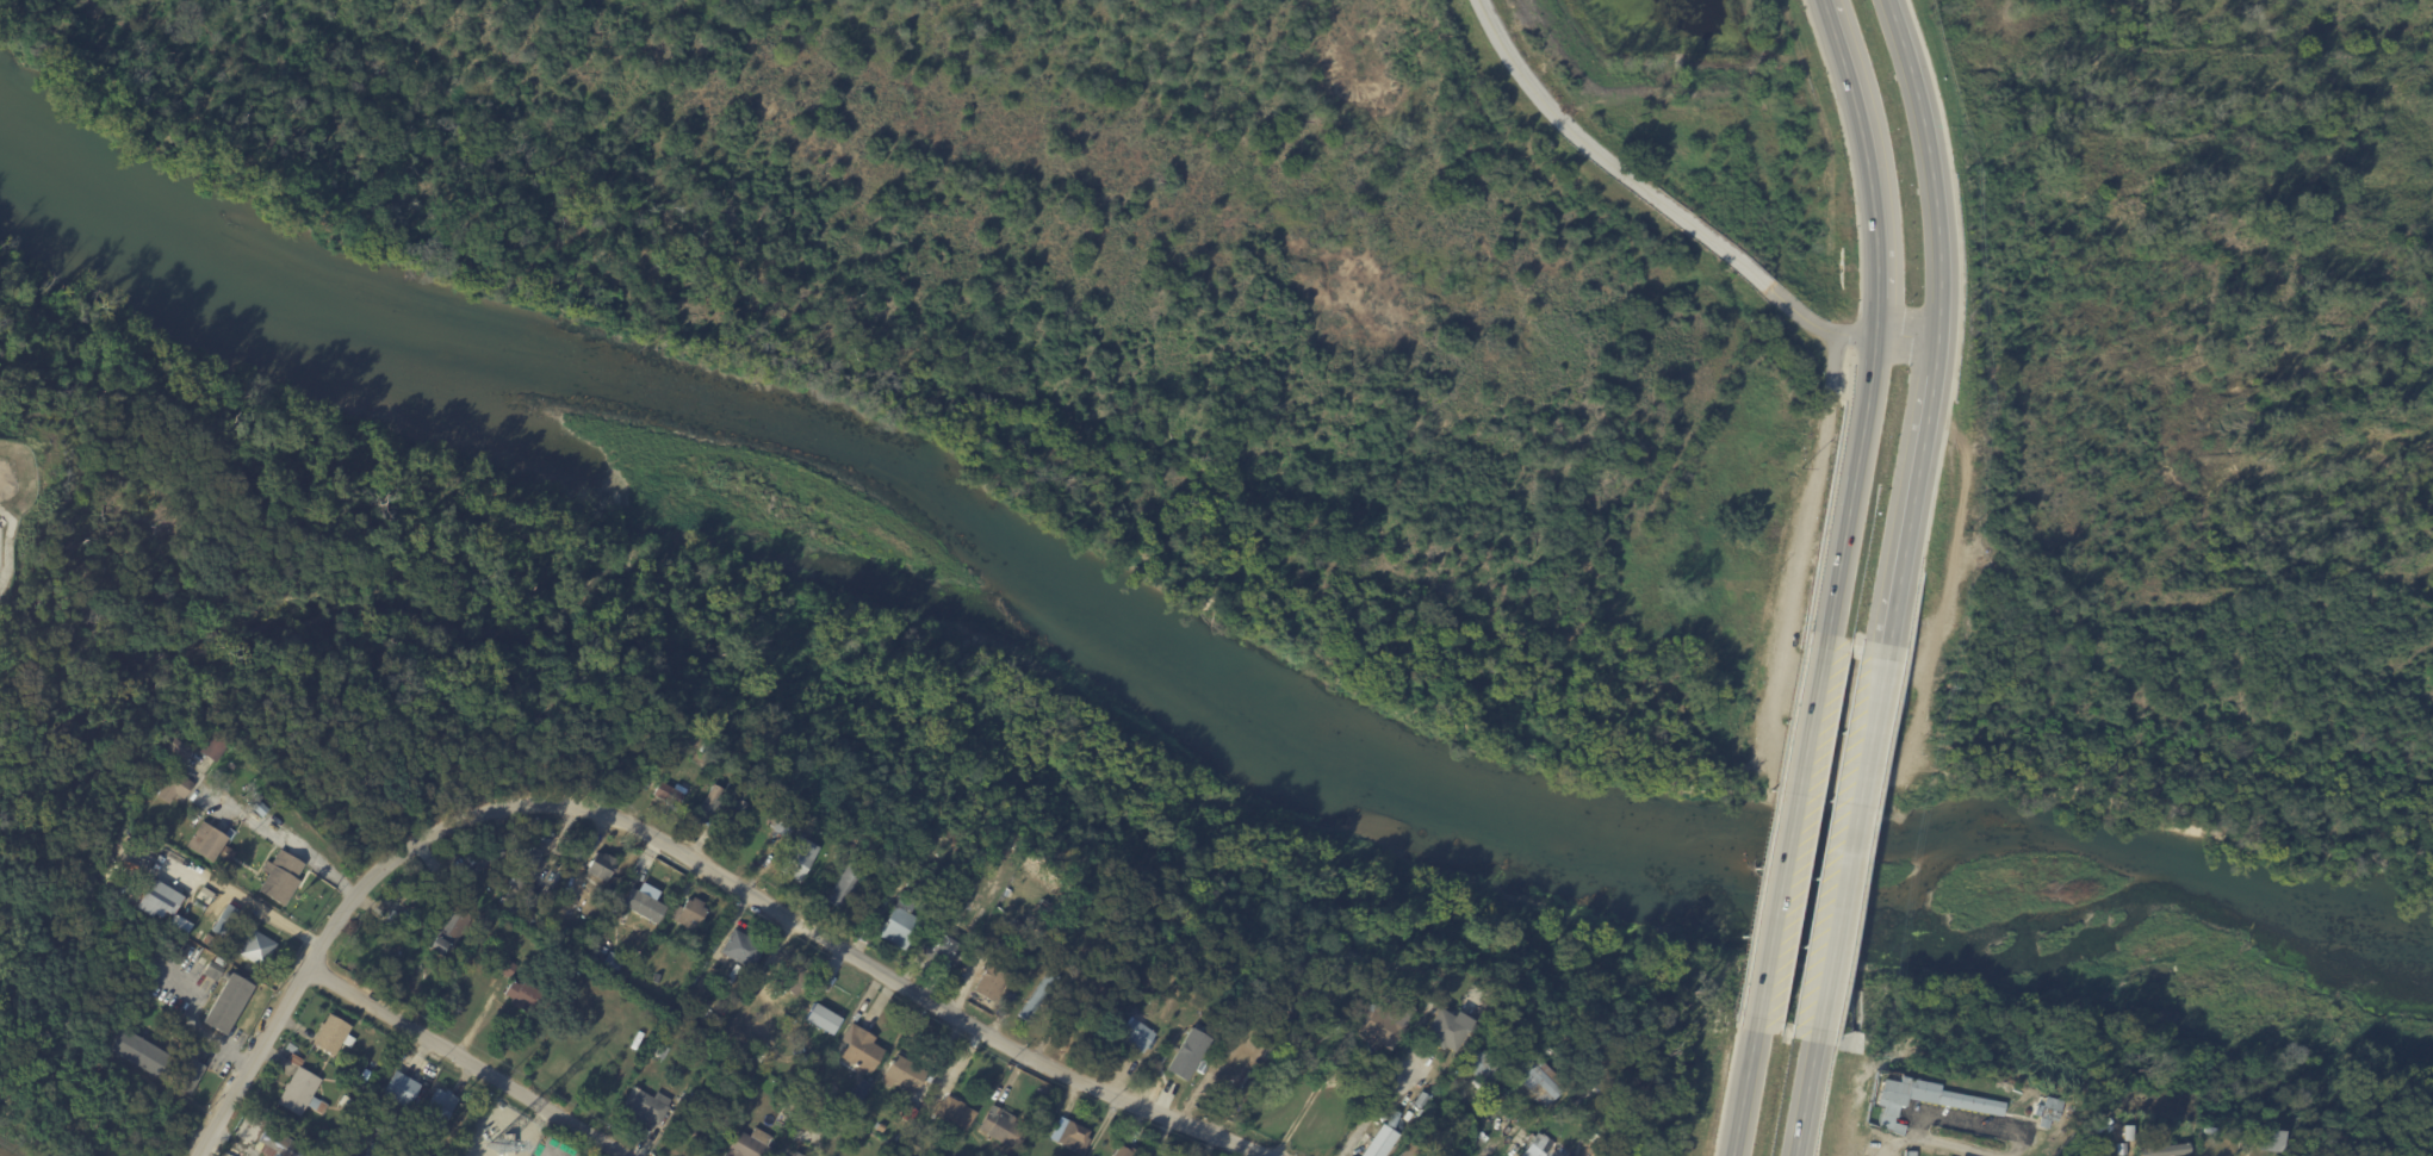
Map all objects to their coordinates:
dam: (1645, 87)
road: (1605, 163)
road: (1872, 322)
road: (1813, 327)
road: (1934, 327)
road: (1903, 328)
road: (2183, 344)
road: (1901, 346)
road: (2181, 378)
parking lot: (12, 503)
river: (1190, 646)
building: (213, 747)
building: (706, 747)
building: (179, 748)
building: (174, 787)
building: (670, 795)
building: (710, 803)
building: (260, 809)
building: (784, 824)
road: (1790, 833)
road: (283, 839)
road: (1849, 840)
building: (206, 841)
building: (509, 841)
building: (154, 845)
building: (226, 853)
building: (975, 858)
building: (800, 859)
building: (602, 866)
building: (523, 874)
building: (143, 875)
building: (281, 877)
building: (848, 884)
building: (119, 888)
building: (141, 889)
building: (408, 891)
building: (203, 894)
building: (163, 897)
building: (907, 903)
building: (200, 905)
road: (252, 905)
building: (641, 905)
building: (639, 908)
building: (926, 908)
building: (544, 909)
building: (689, 914)
building: (969, 915)
building: (392, 920)
building: (224, 921)
building: (535, 921)
building: (179, 922)
building: (949, 924)
building: (900, 928)
building: (448, 931)
building: (1019, 931)
building: (271, 933)
building: (209, 940)
building: (255, 947)
building: (941, 947)
building: (1004, 947)
road: (319, 949)
building: (603, 950)
building: (743, 950)
building: (613, 961)
building: (253, 967)
building: (507, 969)
building: (216, 970)
road: (881, 974)
building: (1307, 976)
building: (657, 978)
building: (795, 978)
building: (827, 982)
building: (1329, 982)
building: (991, 987)
building: (522, 995)
building: (1037, 996)
building: (1162, 997)
building: (228, 1003)
building: (821, 1018)
building: (1384, 1021)
road: (185, 1026)
building: (1440, 1031)
building: (331, 1034)
building: (1177, 1036)
building: (1136, 1038)
building: (722, 1039)
building: (292, 1048)
building: (858, 1050)
building: (660, 1051)
building: (143, 1055)
building: (1180, 1059)
road: (465, 1063)
building: (1482, 1064)
building: (905, 1074)
building: (188, 1076)
building: (1541, 1086)
road: (1743, 1087)
building: (359, 1089)
building: (401, 1089)
building: (862, 1089)
road: (1800, 1089)
building: (300, 1093)
building: (1237, 1094)
building: (750, 1095)
building: (1920, 1102)
building: (349, 1105)
building: (645, 1107)
building: (439, 1108)
road: (1377, 1108)
building: (957, 1113)
building: (2044, 1113)
building: (387, 1125)
building: (1004, 1129)
road: (2015, 1135)
building: (1382, 1136)
building: (1074, 1137)
building: (2140, 1137)
building: (894, 1139)
building: (2267, 1139)
road: (1898, 1142)
building: (402, 1144)
building: (750, 1144)
building: (280, 1145)
building: (509, 1145)
building: (1538, 1145)
building: (913, 1149)
building: (1442, 1150)
building: (2161, 1150)
building: (888, 1151)
building: (1124, 1151)
building: (1401, 1154)
building: (796, 1155)
building: (1354, 1155)

